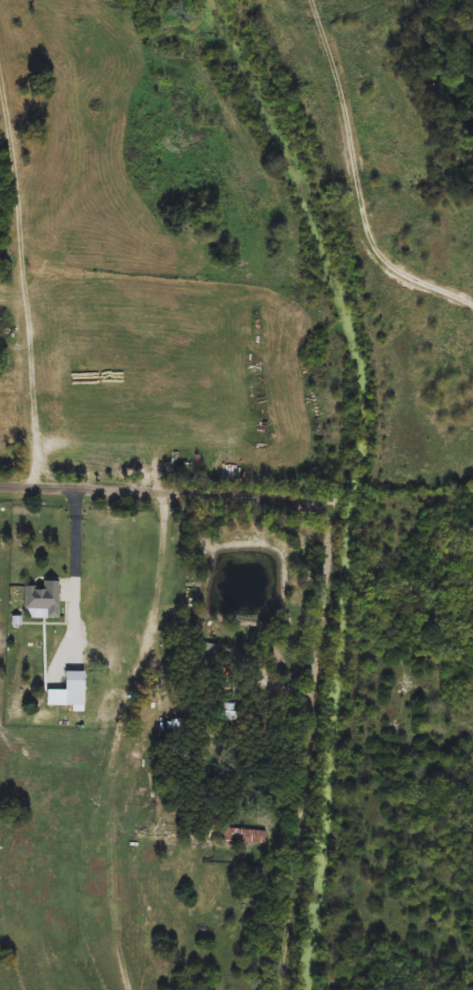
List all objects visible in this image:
road: (23, 275)
road: (160, 491)
road: (77, 586)
building: (44, 598)
road: (321, 635)
building: (205, 664)
building: (77, 689)
building: (231, 713)

